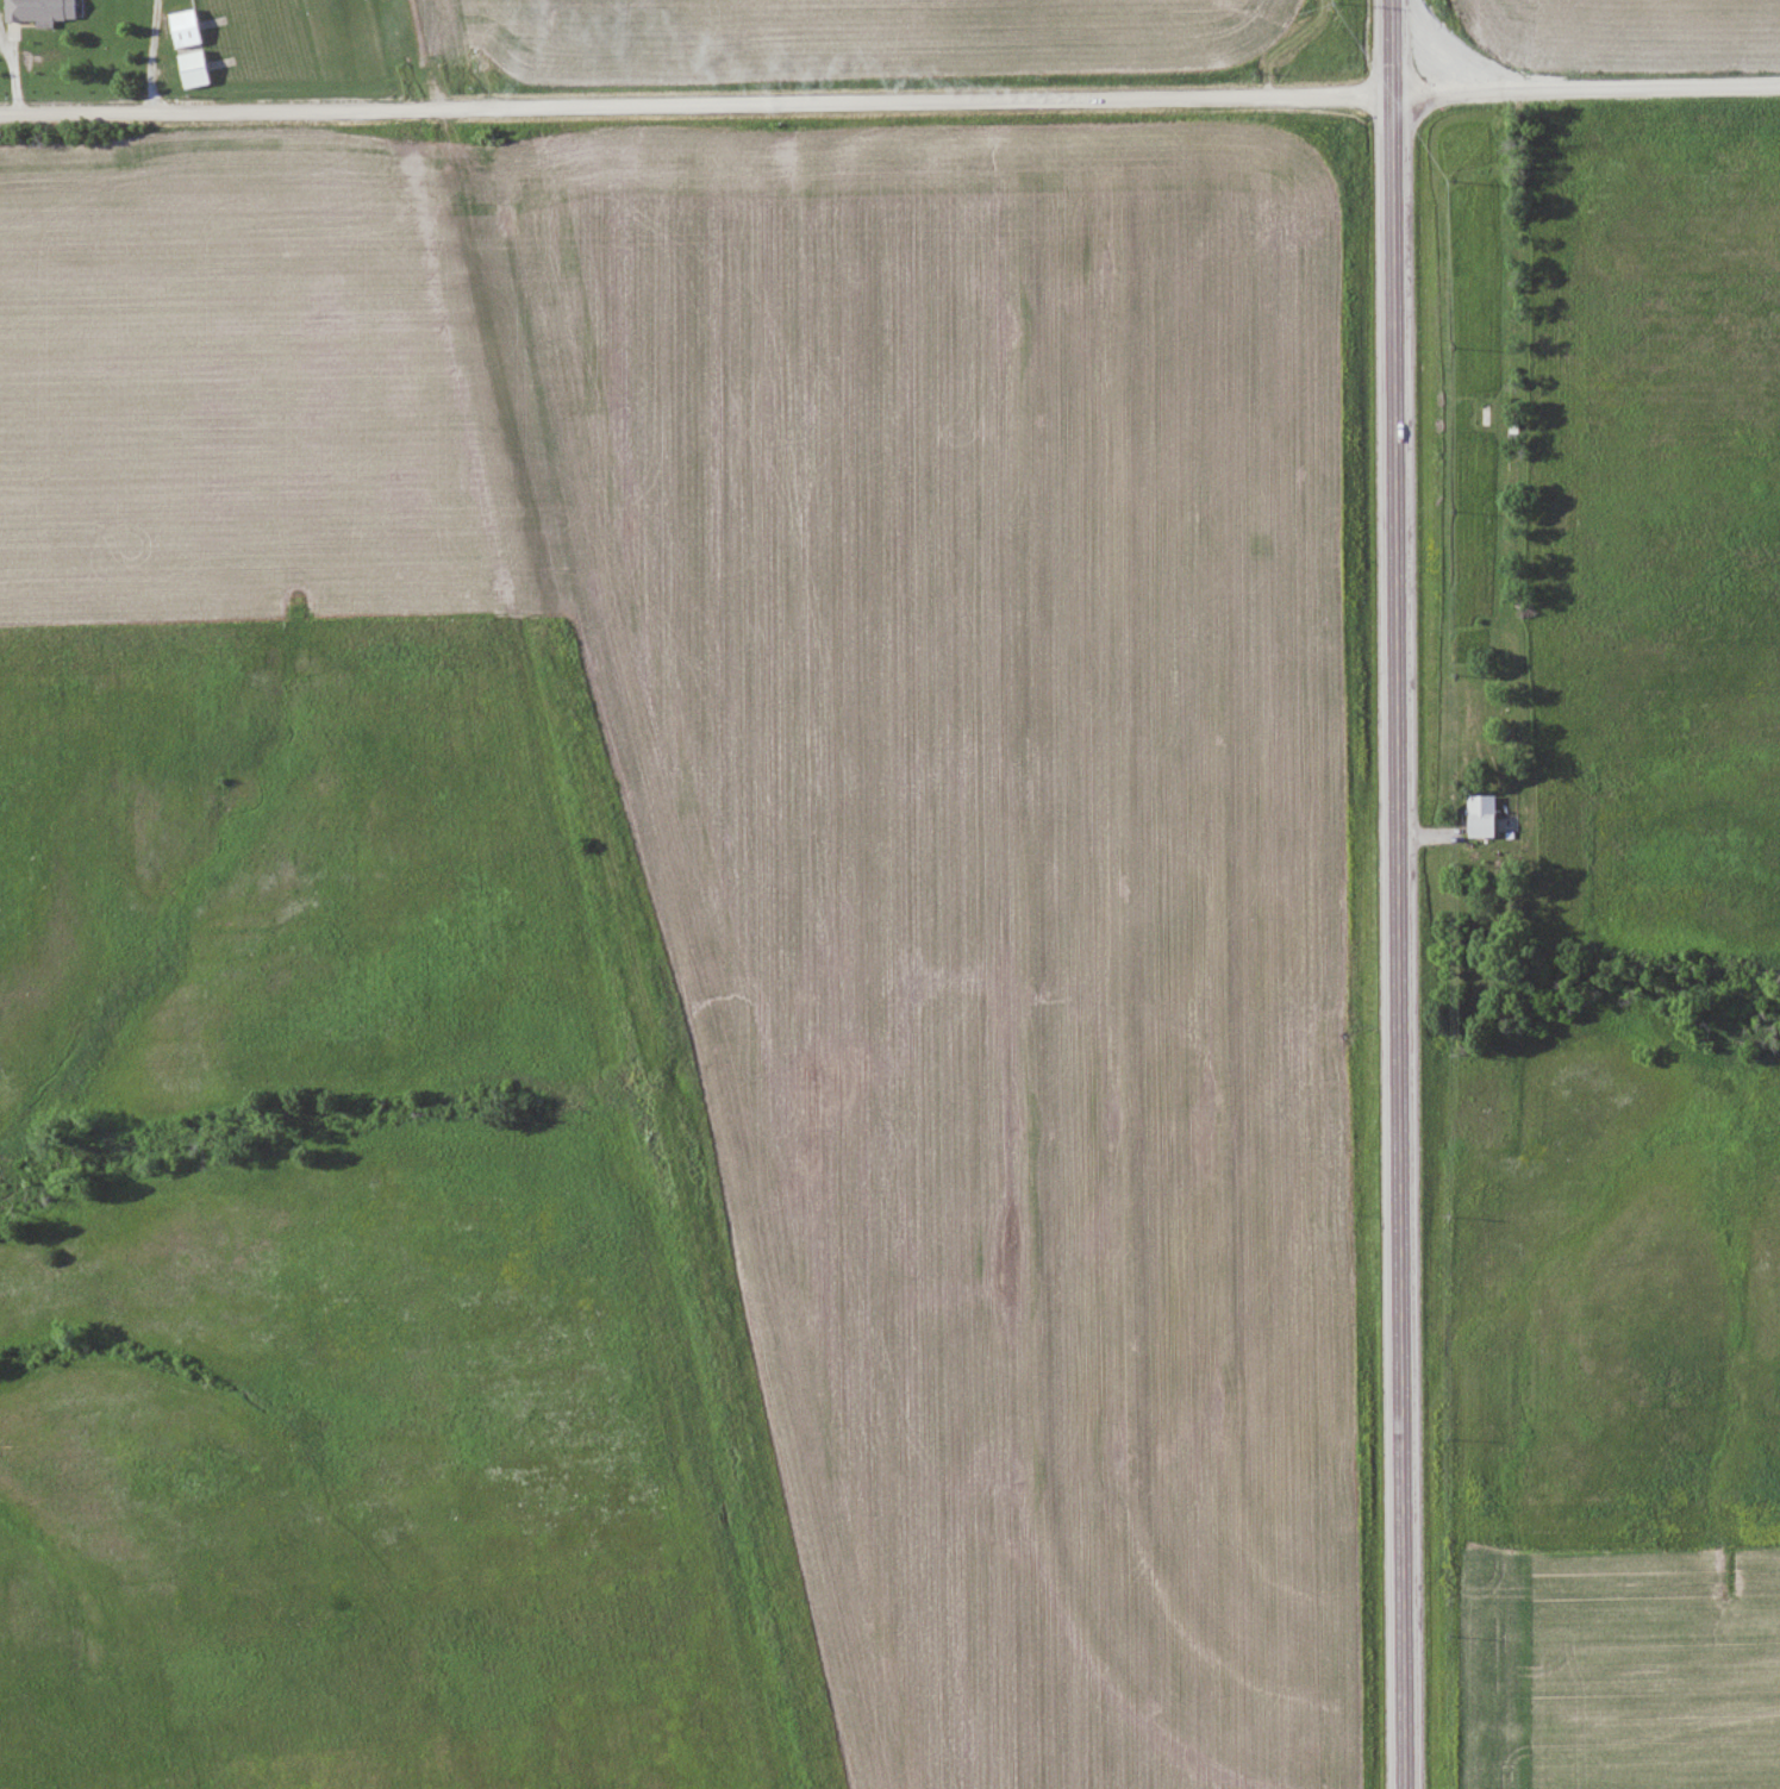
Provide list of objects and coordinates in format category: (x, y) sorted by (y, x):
building: (38, 11)
building: (182, 29)
airport runway: (338, 37)
building: (191, 69)
road: (1588, 89)
road: (699, 107)
building: (1479, 817)
road: (1404, 894)

